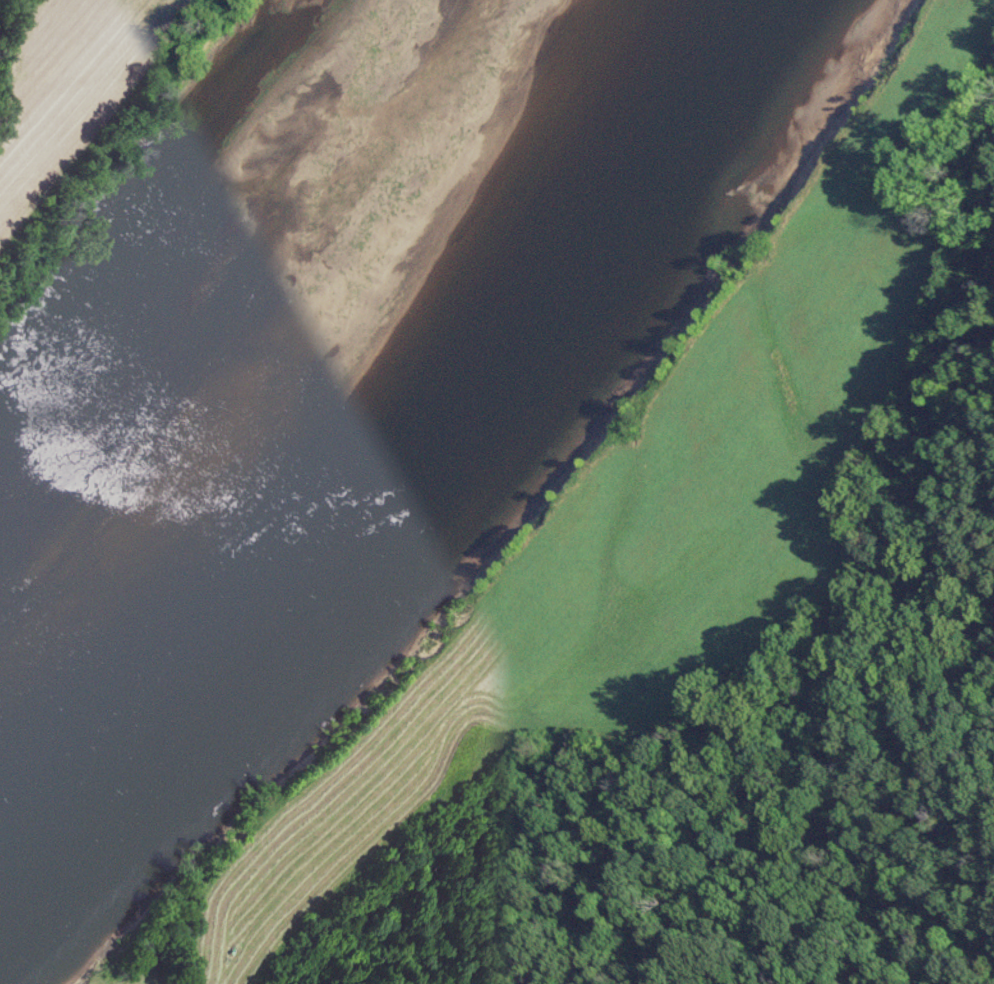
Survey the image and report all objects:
river: (383, 459)

